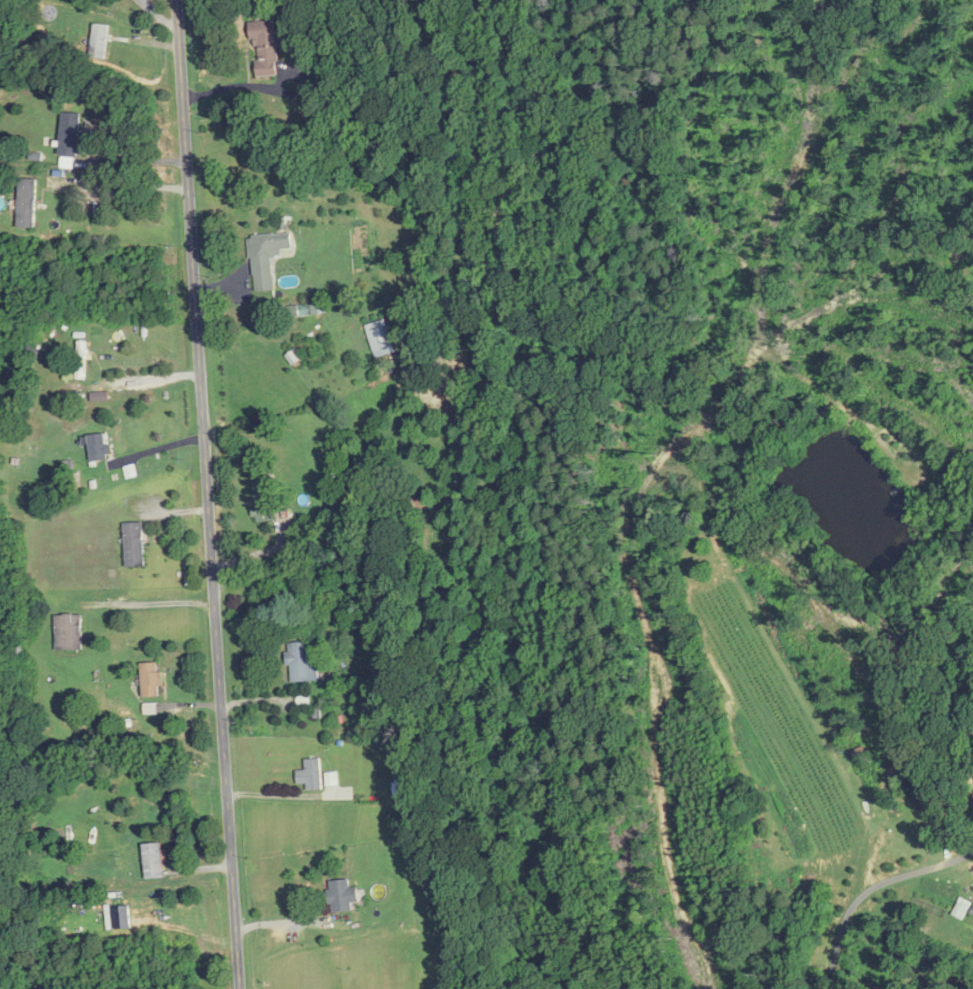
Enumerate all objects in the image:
building: (100, 41)
building: (265, 48)
building: (73, 135)
road: (132, 160)
road: (124, 186)
building: (27, 203)
building: (267, 257)
building: (382, 338)
building: (82, 360)
road: (137, 379)
building: (100, 448)
road: (155, 449)
road: (208, 494)
building: (264, 500)
building: (135, 544)
road: (148, 603)
building: (69, 632)
building: (302, 663)
building: (151, 679)
building: (311, 774)
building: (404, 788)
building: (154, 860)
road: (870, 890)
building: (342, 895)
building: (962, 908)

